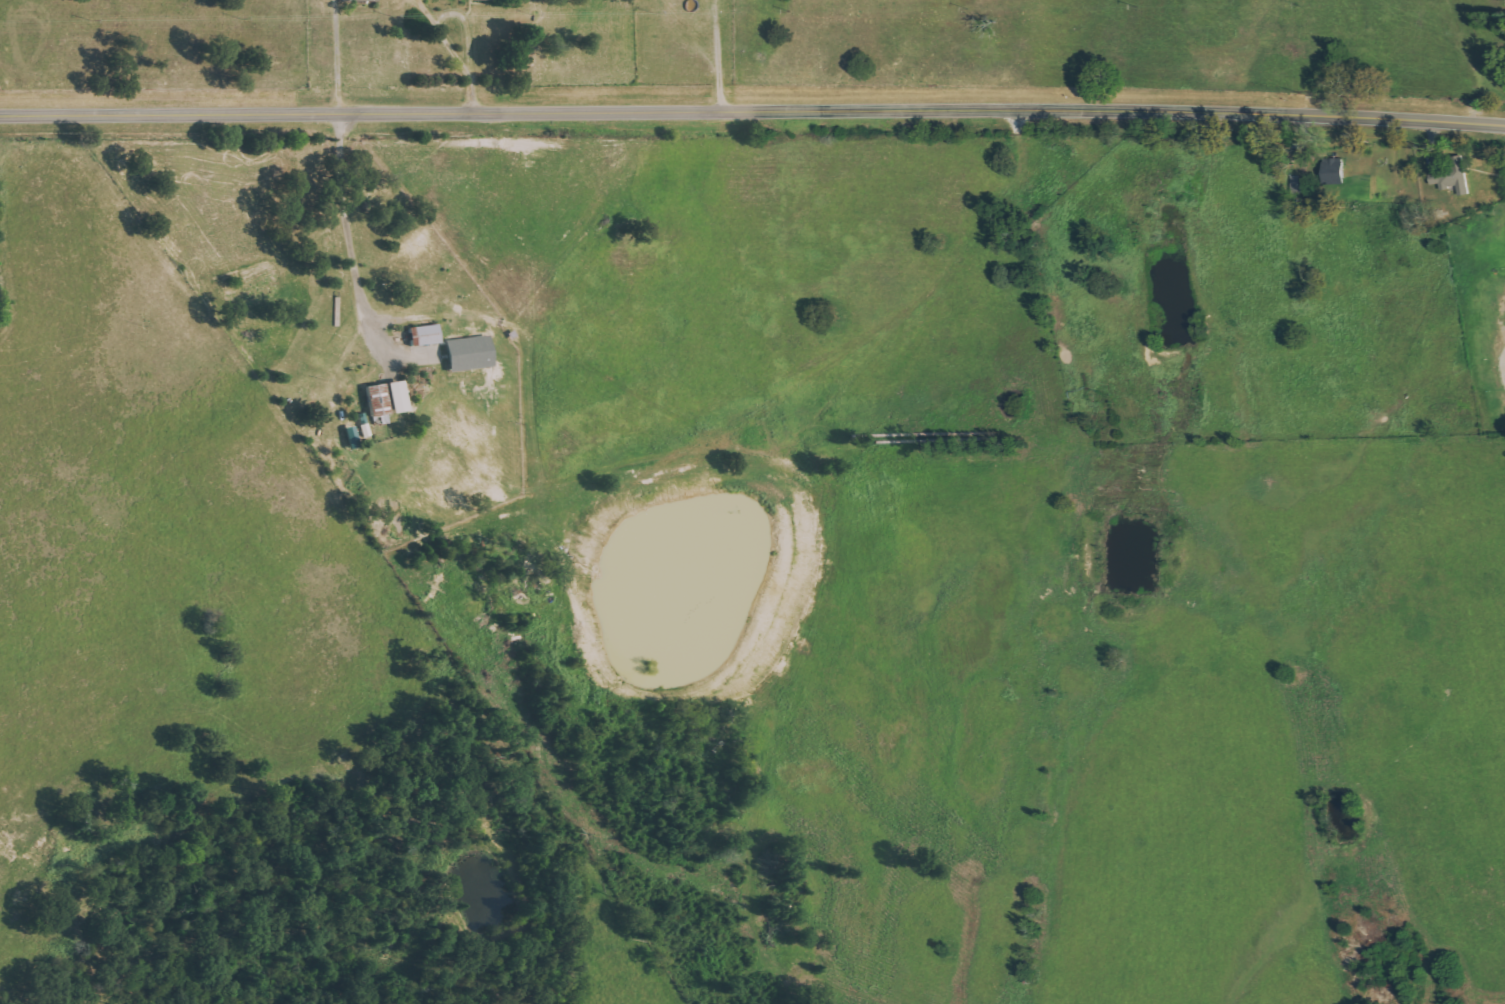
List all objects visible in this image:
road: (752, 105)
building: (1331, 171)
building: (1449, 177)
building: (425, 333)
building: (465, 354)
building: (382, 399)

